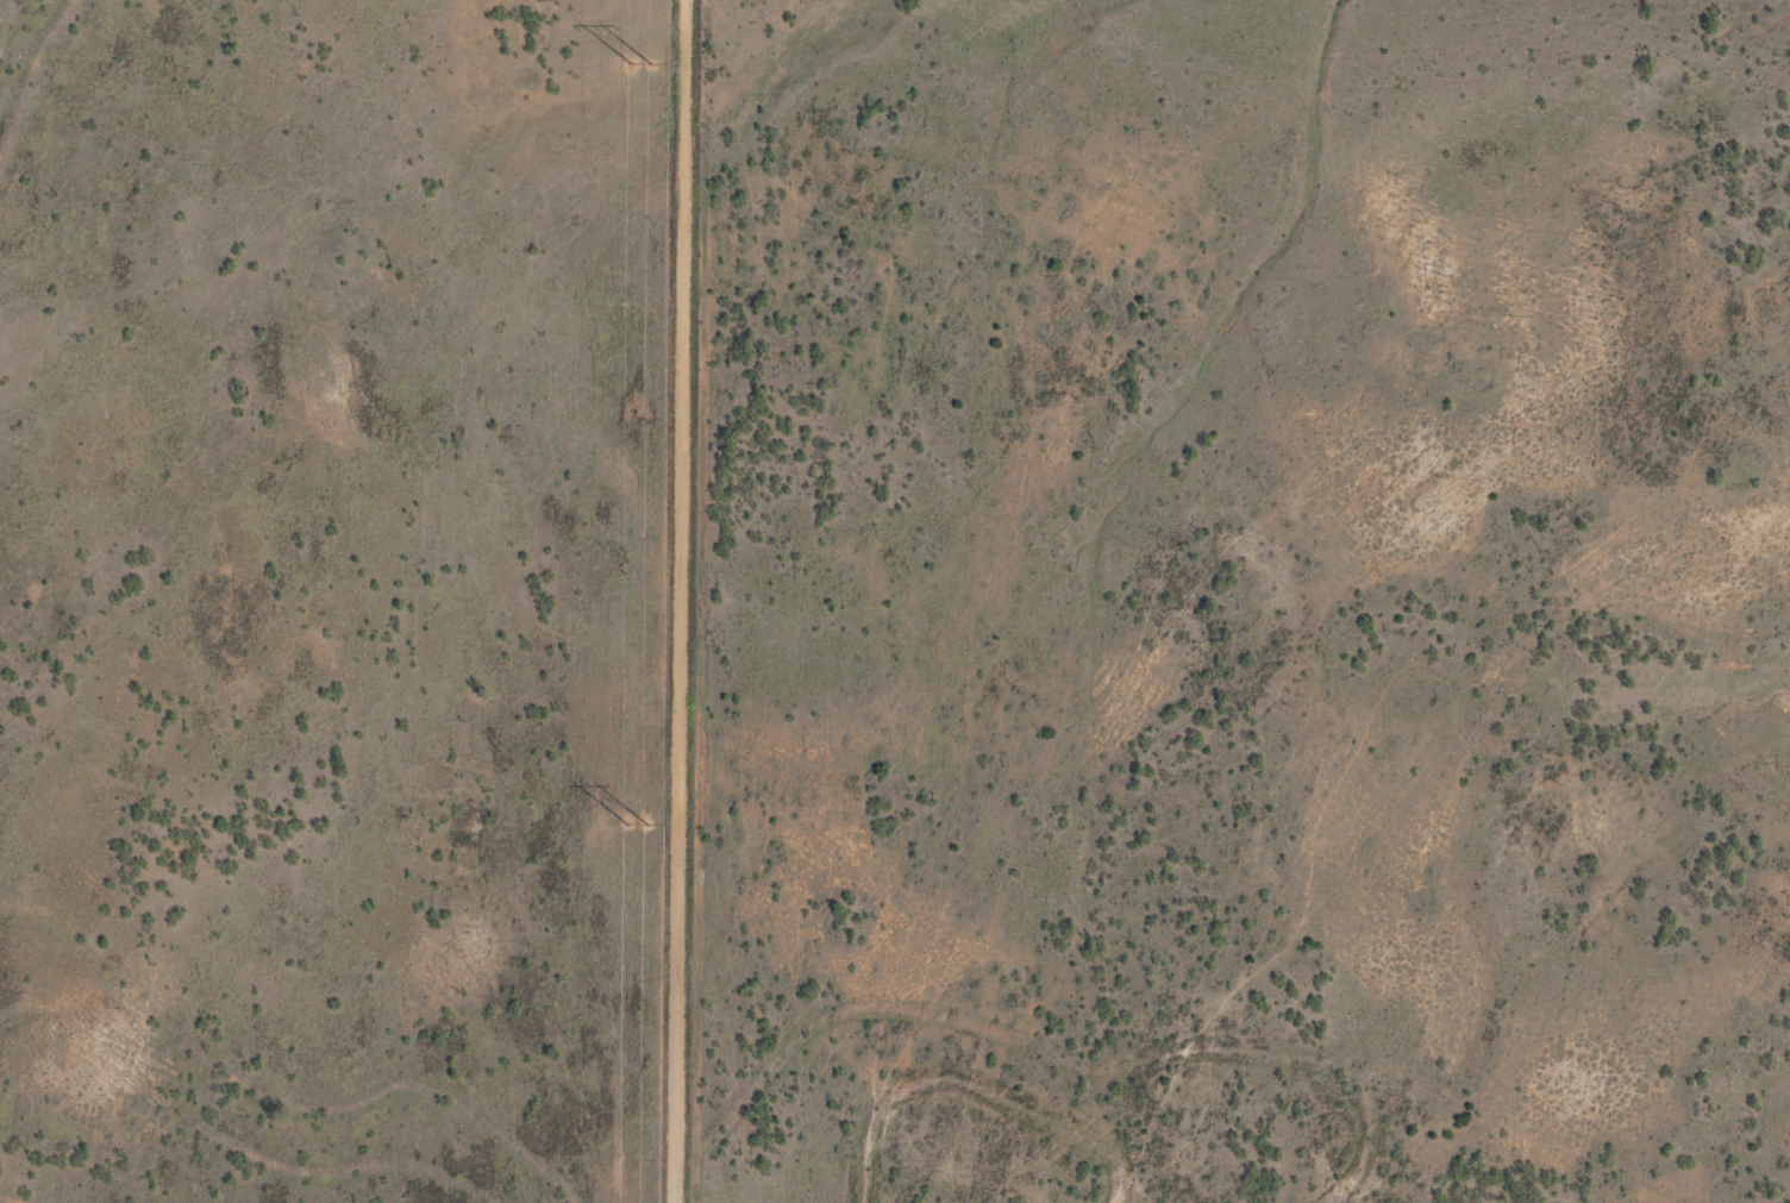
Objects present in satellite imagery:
power tower: (639, 65)
road: (687, 601)
power tower: (637, 828)

